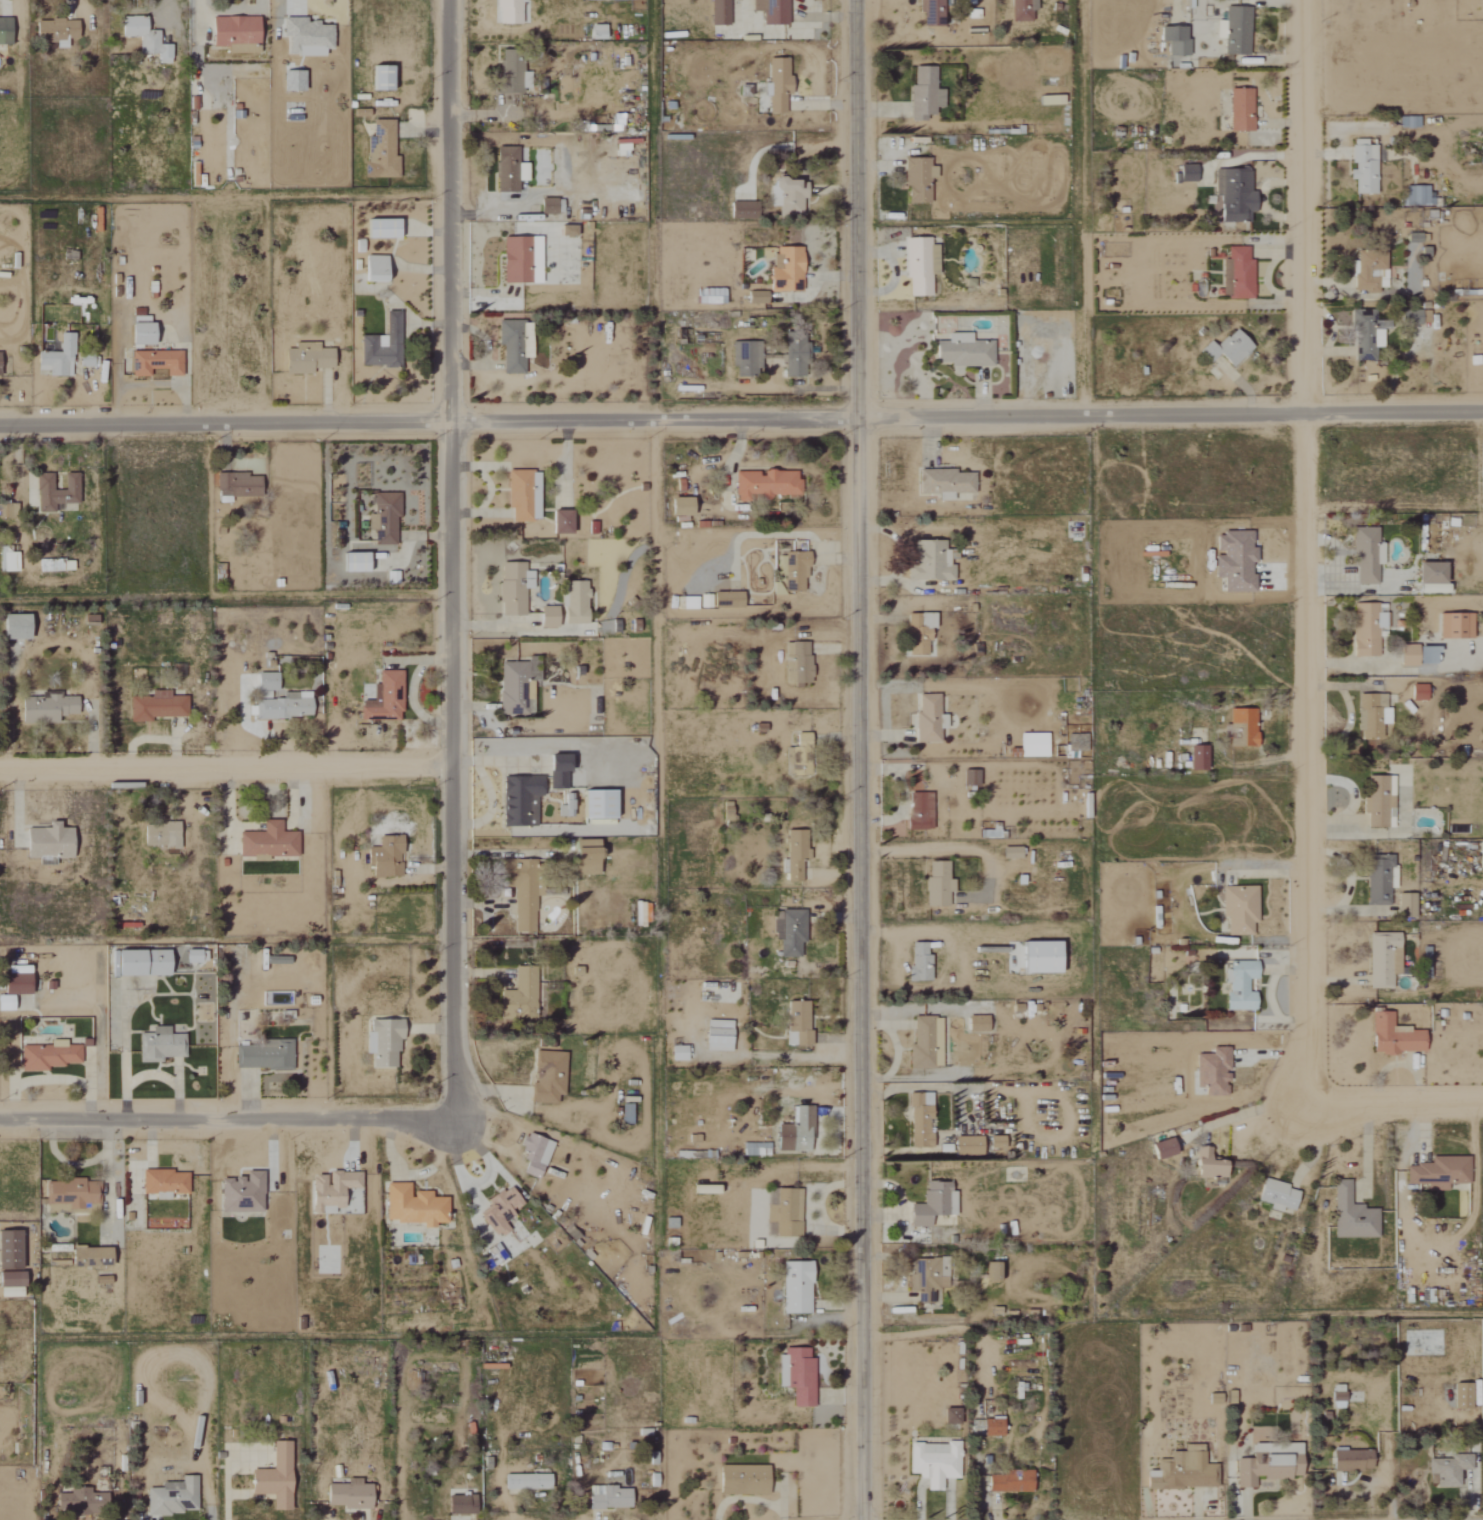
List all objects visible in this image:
building: (1020, 10)
building: (770, 11)
building: (506, 12)
building: (718, 12)
building: (929, 12)
building: (51, 31)
building: (232, 31)
building: (1235, 31)
building: (4, 32)
building: (595, 32)
building: (304, 37)
building: (143, 38)
building: (1173, 41)
building: (511, 70)
building: (379, 78)
building: (292, 81)
building: (776, 85)
building: (923, 93)
building: (1048, 101)
building: (1239, 110)
building: (615, 122)
building: (381, 150)
building: (1361, 167)
building: (506, 170)
building: (1184, 173)
building: (916, 180)
building: (1232, 194)
building: (787, 196)
building: (1418, 196)
building: (545, 207)
building: (379, 229)
building: (565, 231)
building: (1411, 238)
building: (519, 261)
building: (918, 266)
building: (373, 268)
building: (784, 270)
building: (1368, 271)
building: (1235, 274)
building: (709, 296)
building: (755, 298)
building: (1414, 317)
building: (138, 331)
building: (1363, 336)
building: (366, 342)
building: (1226, 349)
building: (962, 352)
building: (56, 358)
building: (744, 359)
building: (83, 360)
building: (305, 360)
building: (793, 360)
building: (154, 363)
road: (741, 415)
building: (943, 483)
building: (235, 485)
building: (763, 485)
building: (54, 493)
building: (521, 495)
building: (677, 507)
building: (383, 518)
building: (559, 523)
building: (591, 528)
road: (1305, 552)
building: (1364, 554)
road: (453, 558)
building: (1232, 560)
building: (7, 561)
building: (351, 563)
building: (930, 564)
building: (53, 566)
building: (793, 572)
building: (1427, 572)
building: (512, 589)
building: (724, 601)
building: (573, 603)
building: (687, 603)
building: (545, 617)
building: (20, 626)
building: (1452, 626)
building: (1365, 628)
building: (919, 633)
building: (1415, 655)
building: (799, 662)
building: (269, 681)
building: (519, 686)
building: (1416, 692)
building: (386, 698)
building: (159, 706)
building: (287, 706)
building: (49, 708)
building: (1368, 716)
building: (931, 718)
building: (1240, 726)
building: (1078, 742)
building: (1036, 745)
building: (803, 756)
building: (1196, 757)
road: (861, 759)
road: (229, 763)
building: (561, 770)
building: (973, 778)
road: (491, 796)
building: (523, 800)
building: (1377, 801)
building: (603, 804)
building: (568, 806)
building: (922, 811)
building: (164, 834)
building: (270, 842)
building: (52, 843)
building: (592, 849)
building: (1013, 852)
building: (798, 853)
building: (1480, 855)
building: (388, 856)
building: (940, 883)
building: (1404, 903)
building: (1237, 908)
building: (527, 911)
building: (792, 932)
road: (923, 932)
building: (196, 957)
building: (1044, 957)
building: (1381, 959)
building: (922, 962)
building: (147, 963)
building: (21, 984)
building: (1238, 985)
building: (522, 995)
building: (8, 1002)
building: (980, 1023)
building: (800, 1024)
building: (721, 1035)
building: (1392, 1036)
building: (386, 1041)
building: (928, 1043)
building: (162, 1044)
building: (681, 1053)
building: (265, 1055)
building: (50, 1056)
building: (1211, 1071)
building: (550, 1076)
road: (1394, 1103)
road: (1253, 1109)
building: (629, 1114)
road: (224, 1117)
building: (923, 1121)
building: (799, 1132)
building: (999, 1141)
building: (971, 1145)
building: (758, 1149)
building: (1160, 1149)
road: (1364, 1153)
building: (537, 1154)
building: (1207, 1166)
building: (1437, 1173)
building: (166, 1183)
building: (707, 1189)
building: (334, 1190)
building: (245, 1193)
building: (1275, 1195)
building: (73, 1196)
building: (936, 1203)
building: (416, 1206)
building: (502, 1210)
building: (787, 1212)
building: (1349, 1215)
building: (12, 1250)
building: (497, 1256)
building: (94, 1257)
building: (996, 1271)
building: (931, 1279)
building: (104, 1280)
building: (14, 1284)
building: (798, 1287)
building: (802, 1376)
building: (1335, 1395)
building: (1459, 1396)
building: (954, 1416)
building: (995, 1427)
building: (1349, 1460)
building: (936, 1462)
building: (1185, 1469)
building: (1264, 1469)
building: (1448, 1469)
building: (278, 1478)
building: (747, 1480)
building: (530, 1482)
building: (1012, 1482)
building: (352, 1495)
building: (175, 1497)
building: (612, 1498)
building: (85, 1502)
building: (464, 1505)

